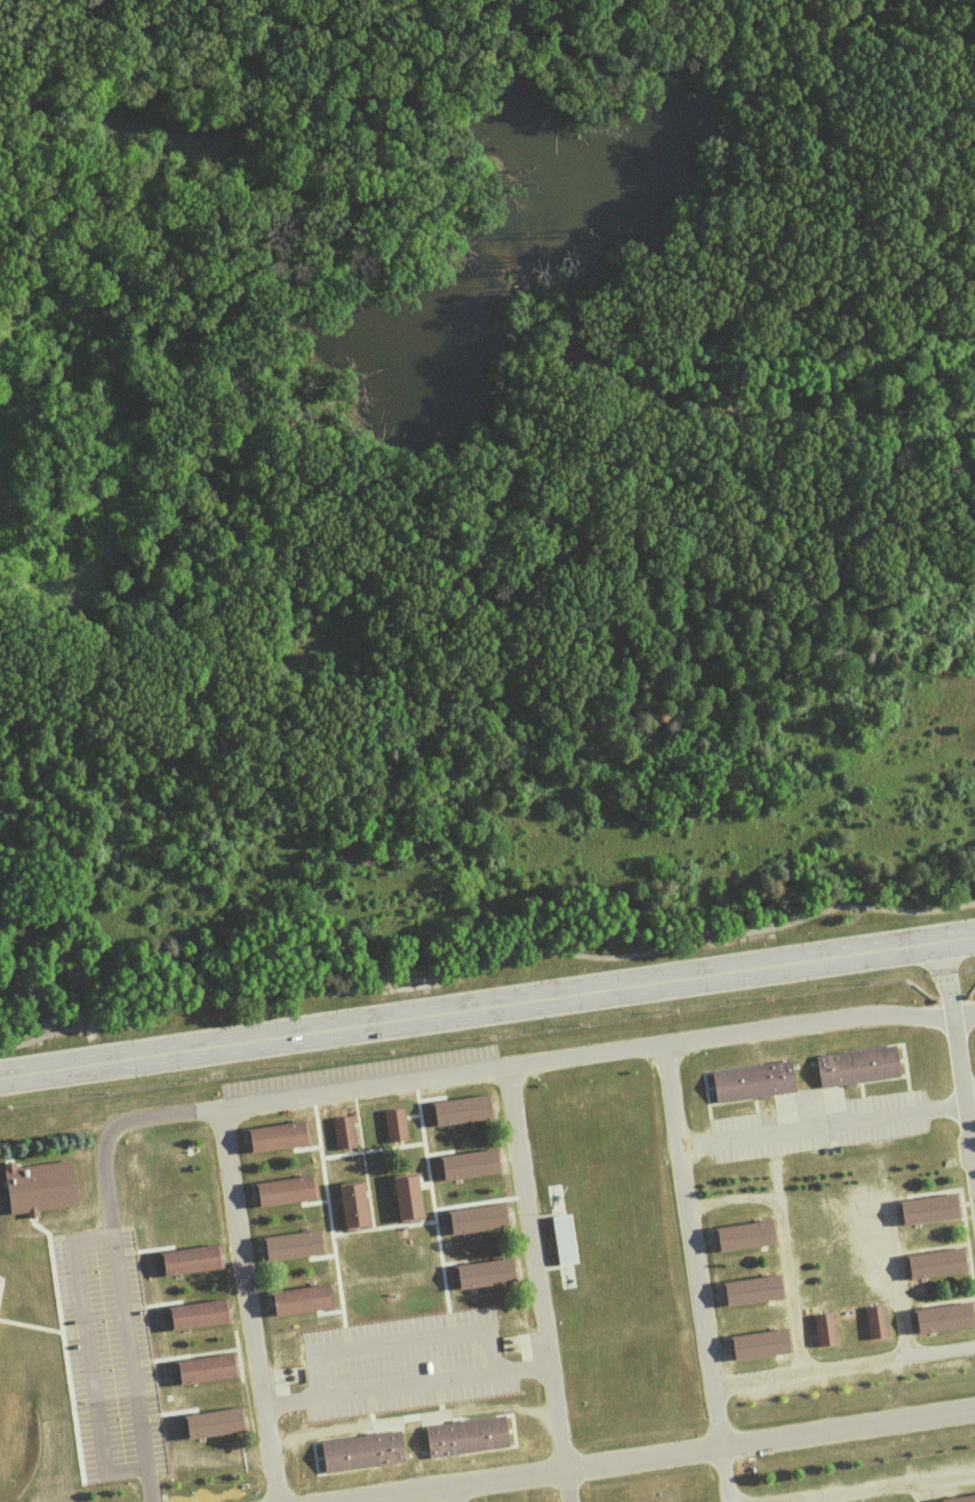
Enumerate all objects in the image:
road: (755, 928)
road: (266, 988)
road: (487, 1005)
road: (958, 1064)
building: (862, 1066)
building: (753, 1081)
road: (398, 1082)
road: (968, 1089)
building: (461, 1110)
road: (819, 1123)
building: (394, 1124)
building: (343, 1134)
building: (278, 1137)
building: (469, 1165)
building: (37, 1185)
building: (284, 1194)
building: (407, 1199)
building: (353, 1206)
building: (929, 1208)
building: (477, 1221)
building: (746, 1237)
building: (560, 1238)
road: (780, 1244)
building: (293, 1247)
building: (189, 1260)
building: (937, 1264)
road: (694, 1272)
building: (487, 1274)
road: (535, 1284)
road: (118, 1285)
building: (753, 1291)
building: (298, 1302)
building: (198, 1315)
road: (81, 1316)
building: (943, 1321)
building: (875, 1322)
building: (825, 1330)
road: (399, 1342)
building: (760, 1344)
parking lot: (402, 1362)
road: (842, 1369)
building: (205, 1370)
road: (404, 1385)
building: (213, 1423)
building: (145, 1428)
building: (92, 1437)
building: (470, 1437)
building: (363, 1453)
road: (658, 1455)
road: (850, 1489)
road: (923, 1490)
road: (453, 1494)
road: (822, 1498)
building: (962, 1499)
road: (349, 1501)

